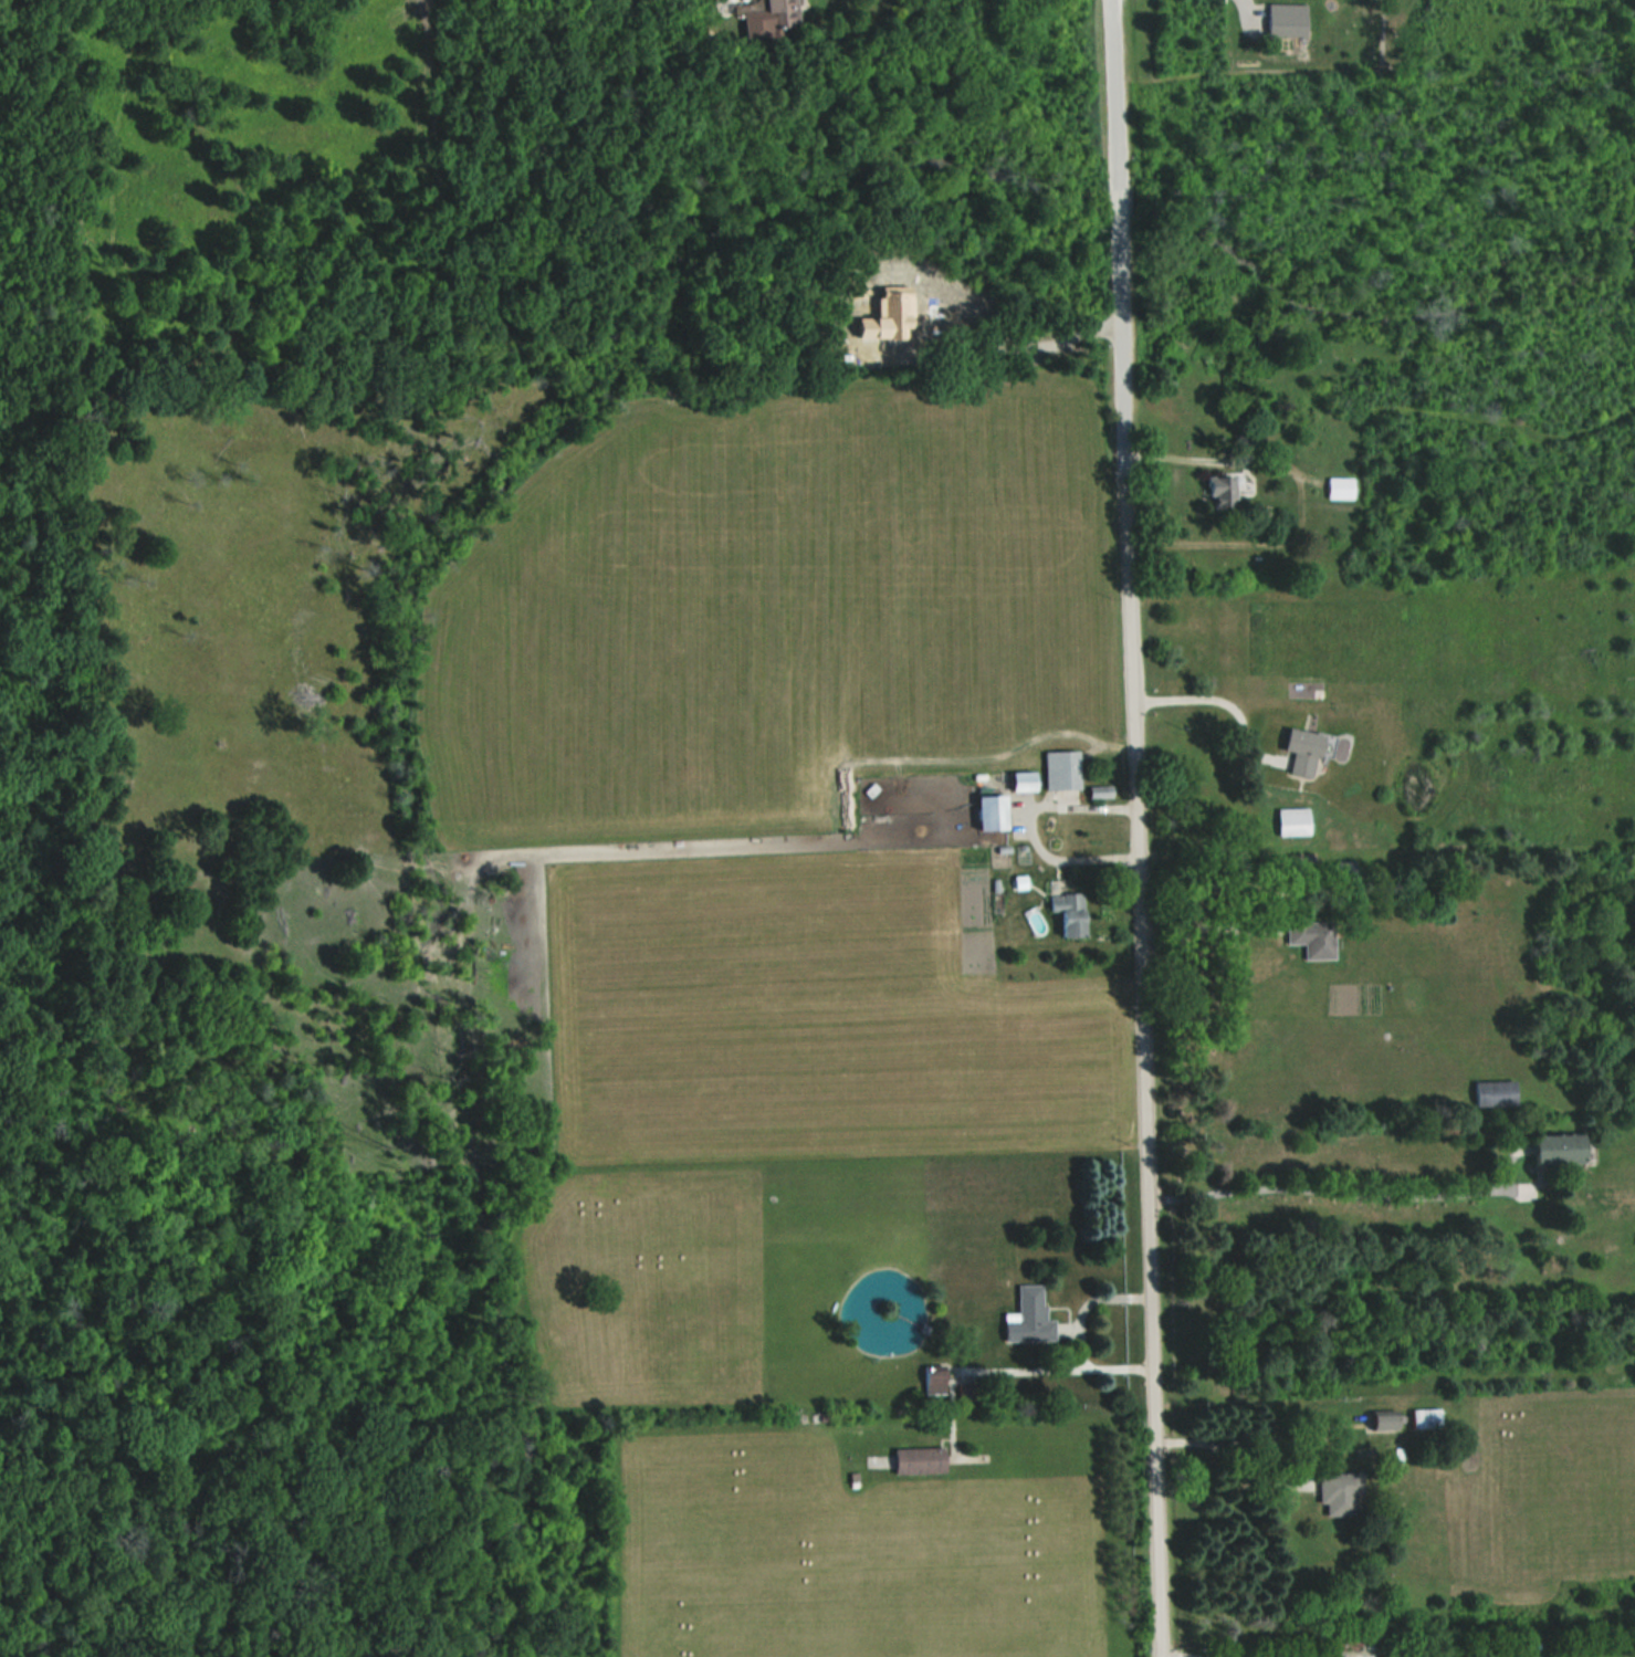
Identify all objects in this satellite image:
building: (775, 18)
road: (1110, 93)
road: (1114, 211)
building: (1340, 489)
building: (1227, 492)
road: (1208, 702)
building: (1303, 751)
building: (1059, 770)
building: (988, 812)
building: (1291, 822)
road: (1028, 826)
building: (1341, 871)
building: (1066, 913)
road: (1201, 927)
building: (1311, 937)
road: (1138, 946)
building: (1555, 1145)
road: (1328, 1191)
building: (1027, 1317)
road: (1054, 1368)
building: (933, 1378)
building: (1424, 1416)
building: (1383, 1418)
building: (919, 1458)
road: (1233, 1458)
building: (1340, 1491)

